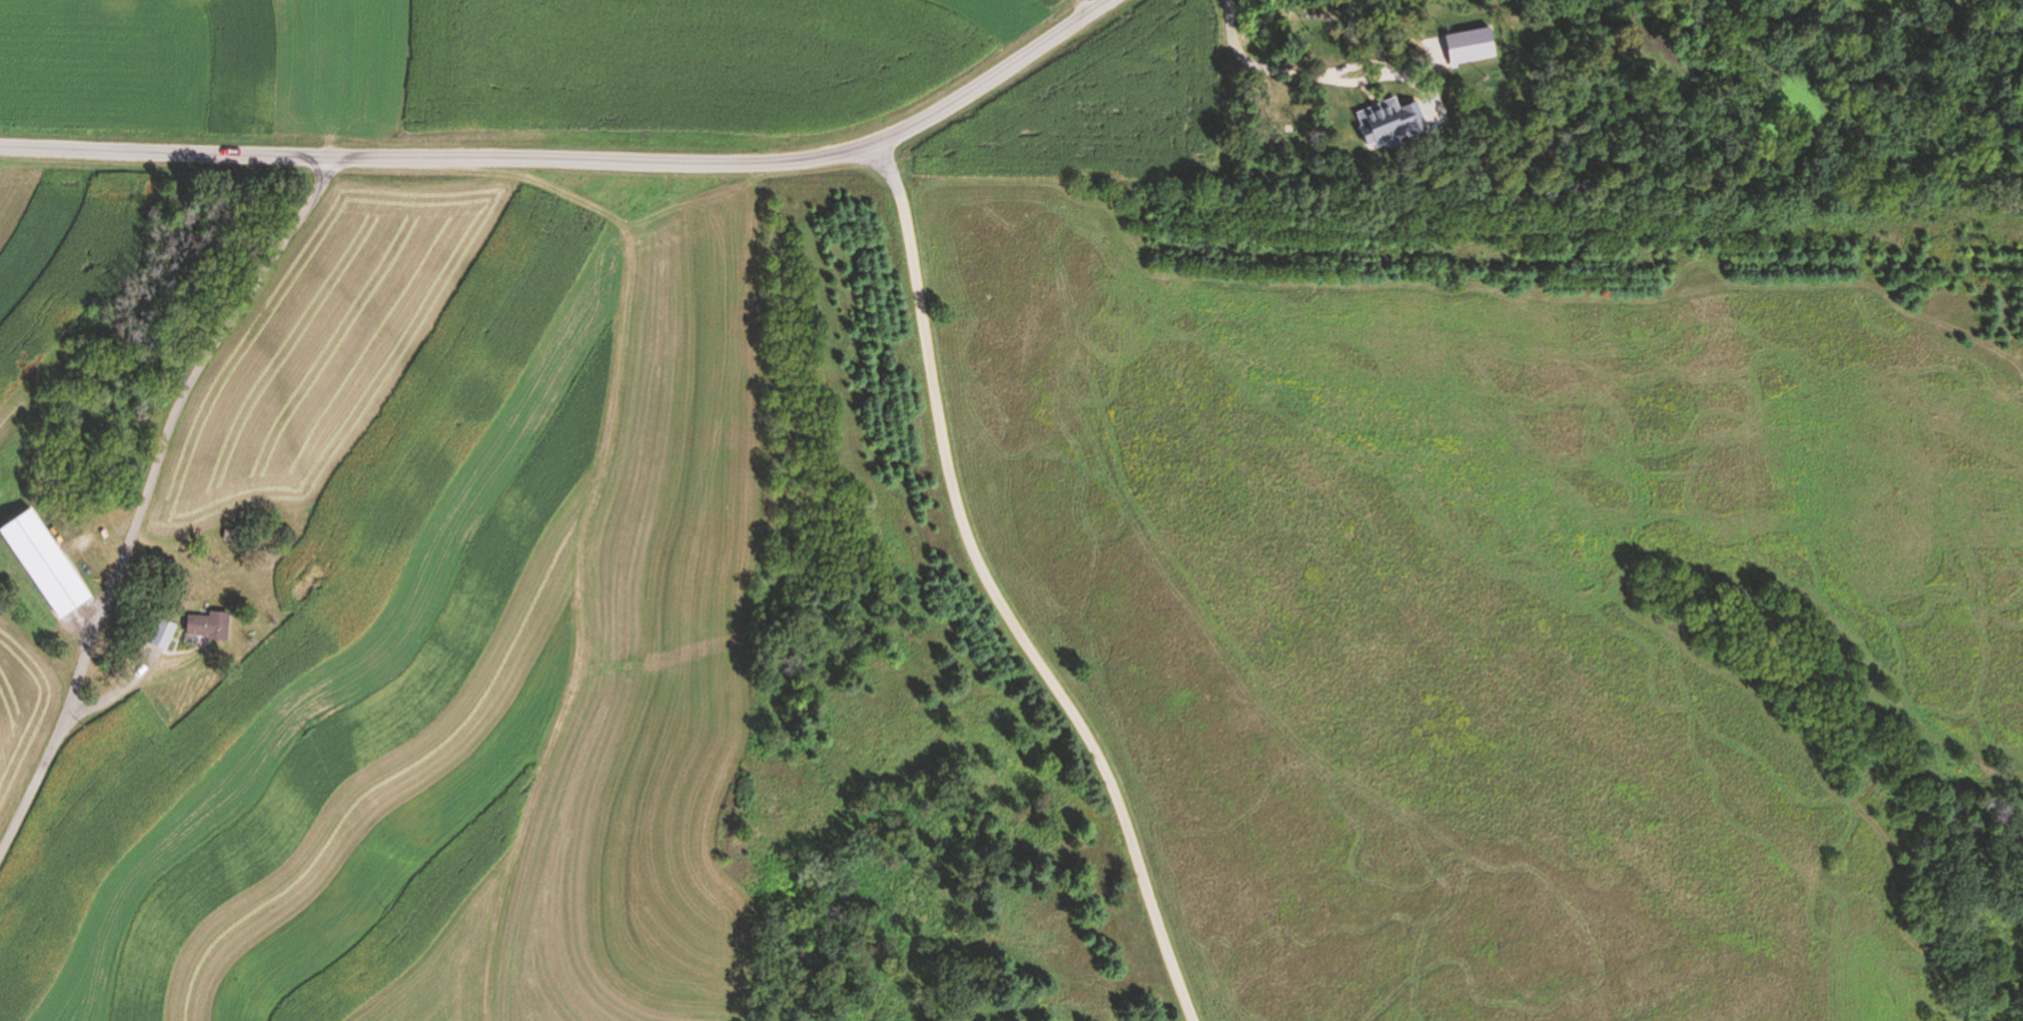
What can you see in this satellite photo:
building: (1389, 121)
road: (591, 161)
road: (150, 490)
building: (231, 536)
building: (52, 577)
road: (998, 604)
building: (207, 626)
building: (163, 635)

